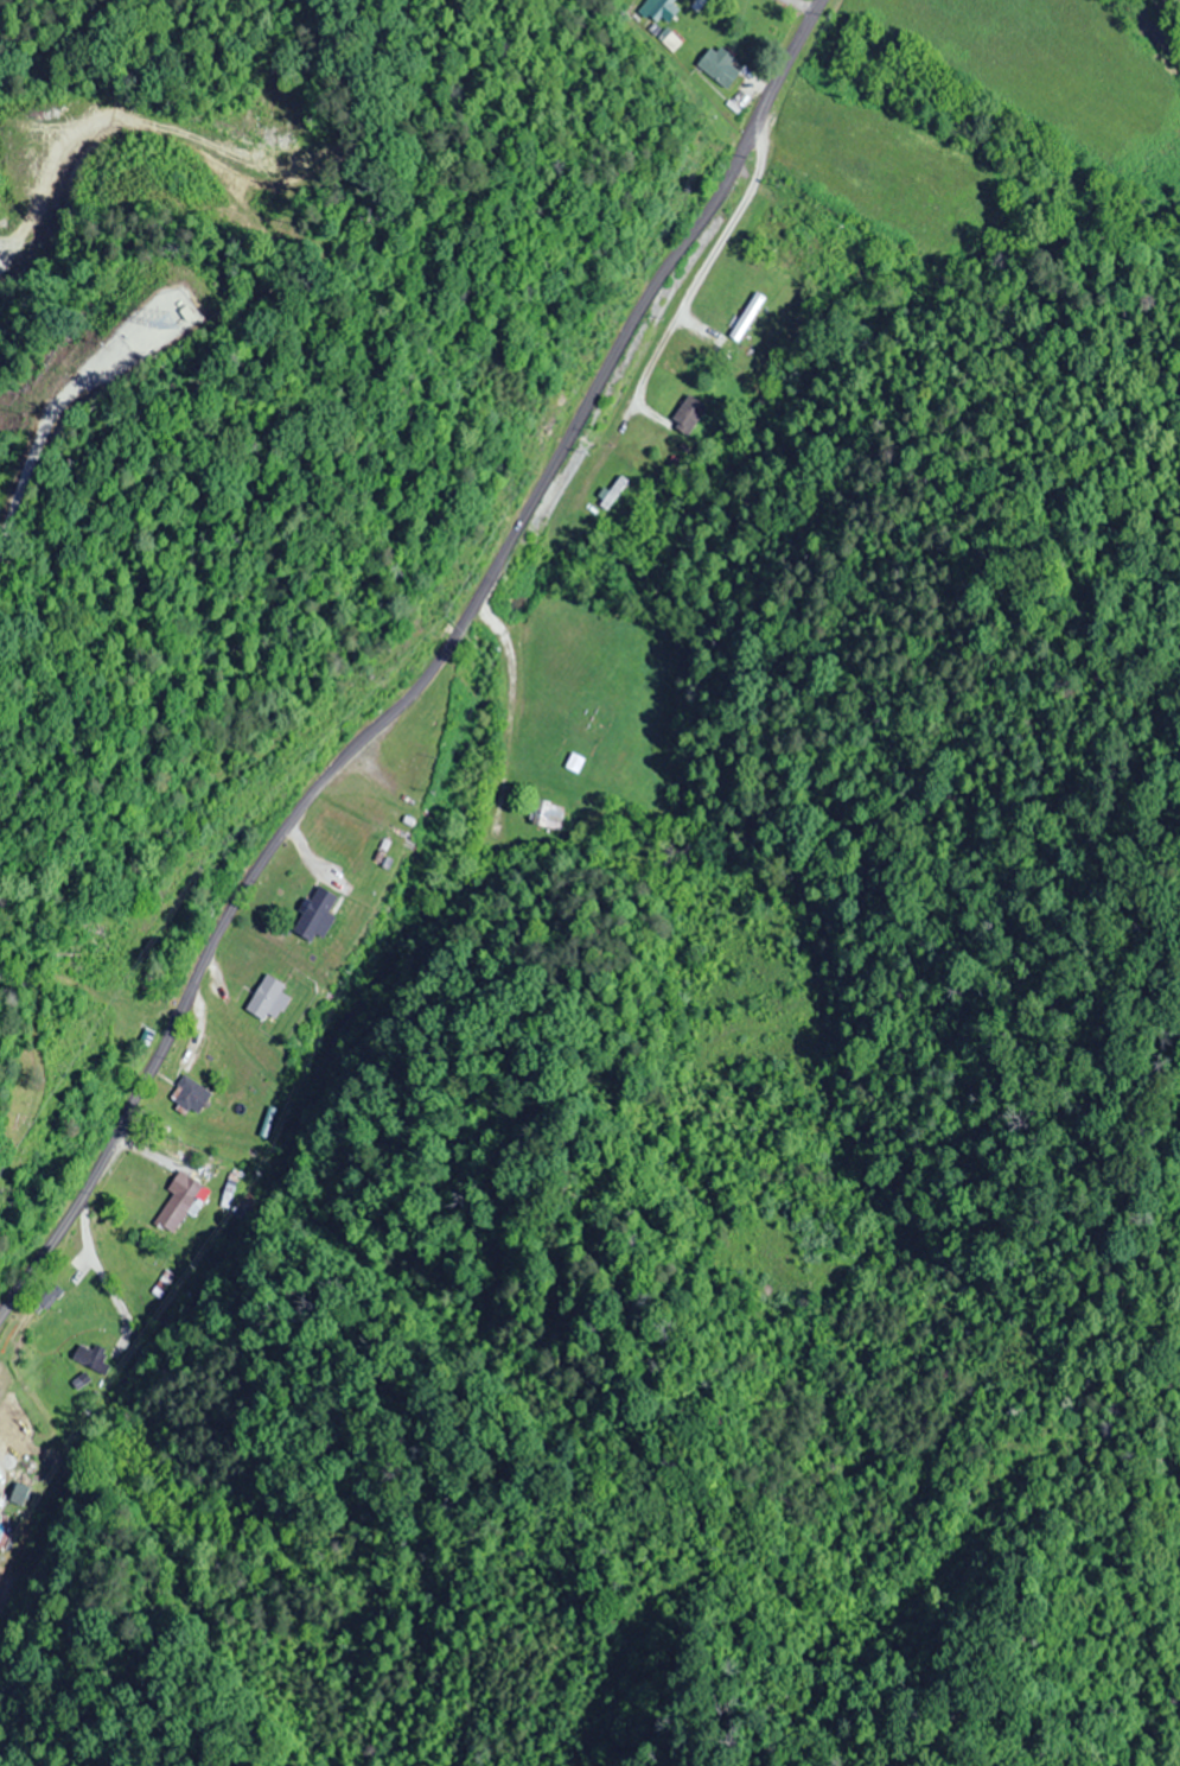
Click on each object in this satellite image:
building: (715, 66)
building: (745, 317)
building: (687, 413)
road: (39, 441)
building: (613, 491)
road: (497, 576)
road: (422, 663)
building: (548, 815)
building: (314, 914)
building: (187, 1094)
building: (179, 1206)
building: (40, 1300)
building: (90, 1357)
building: (17, 1493)

